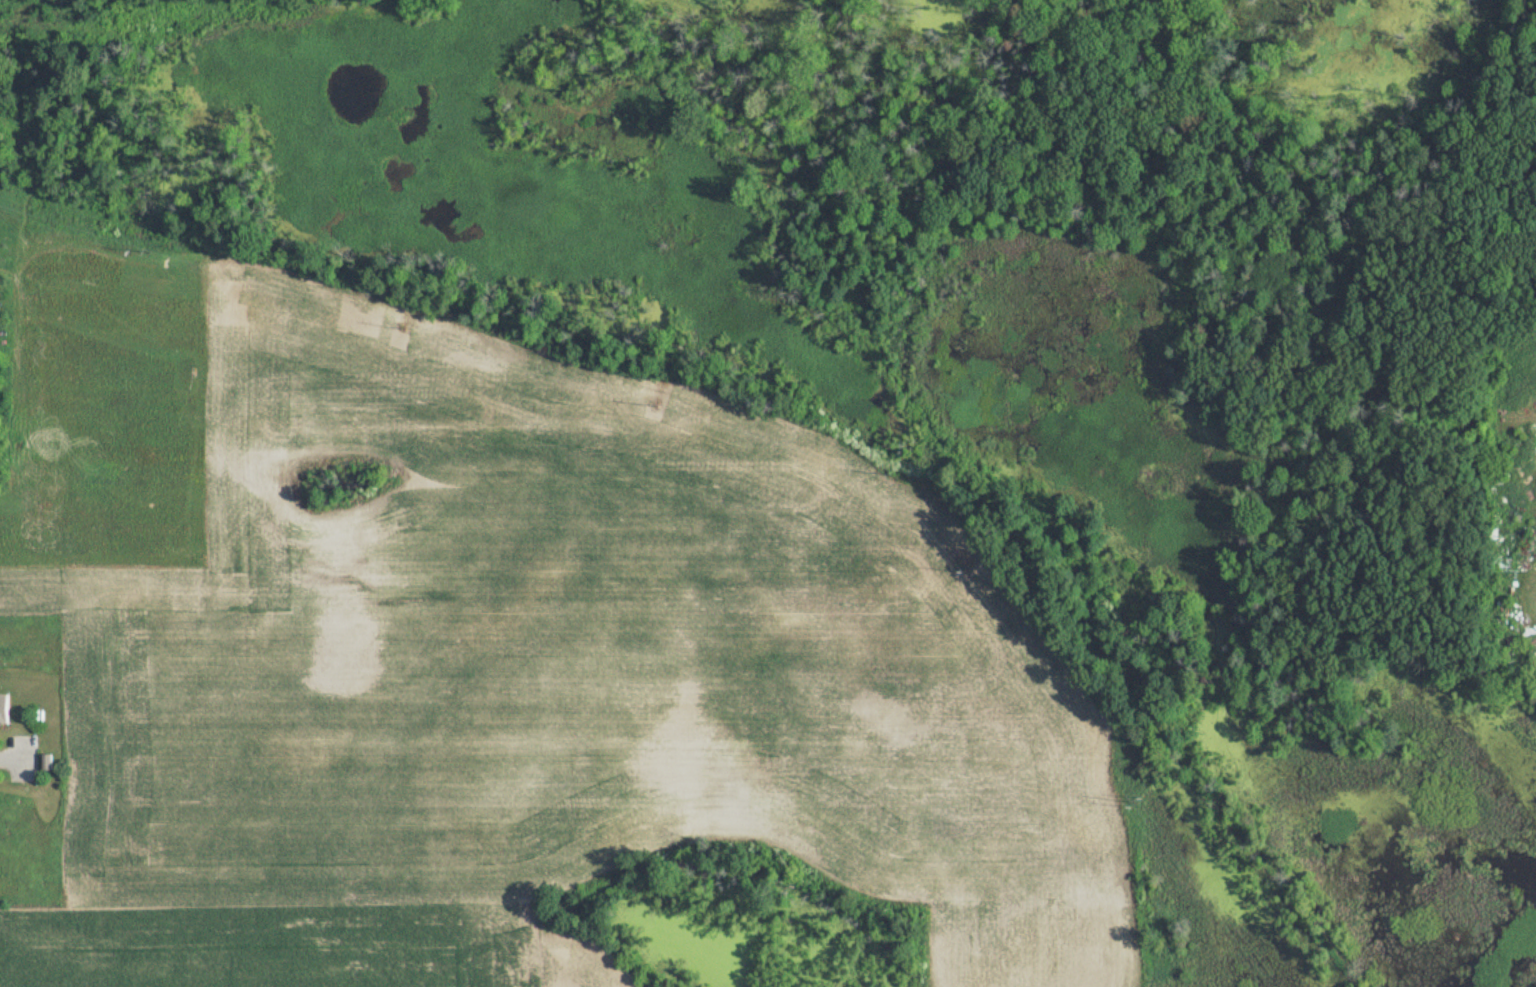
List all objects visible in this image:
building: (3, 710)
road: (8, 757)

